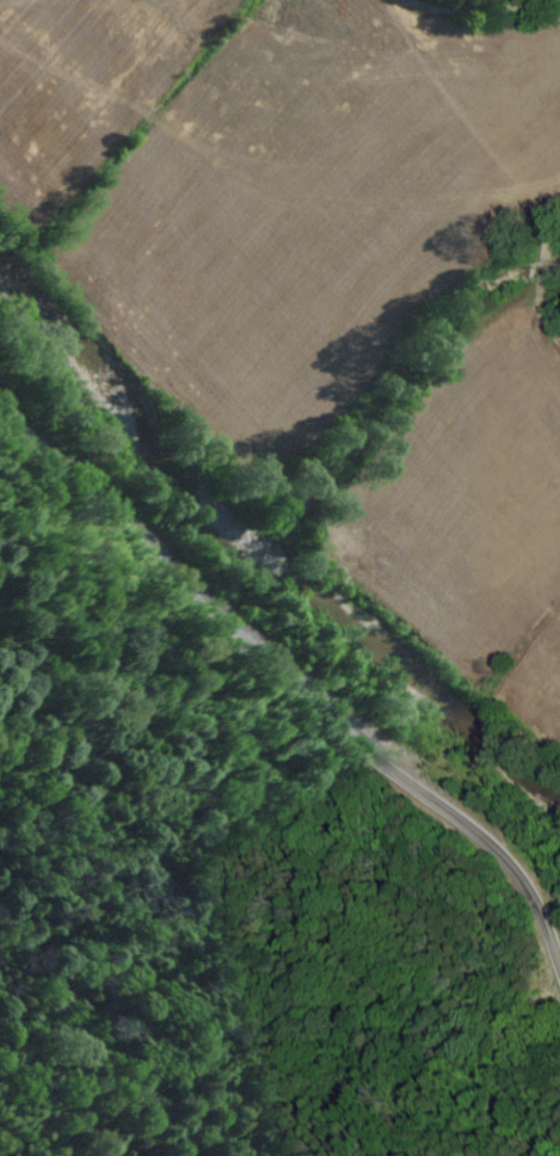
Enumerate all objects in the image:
road: (293, 693)
river: (547, 782)

